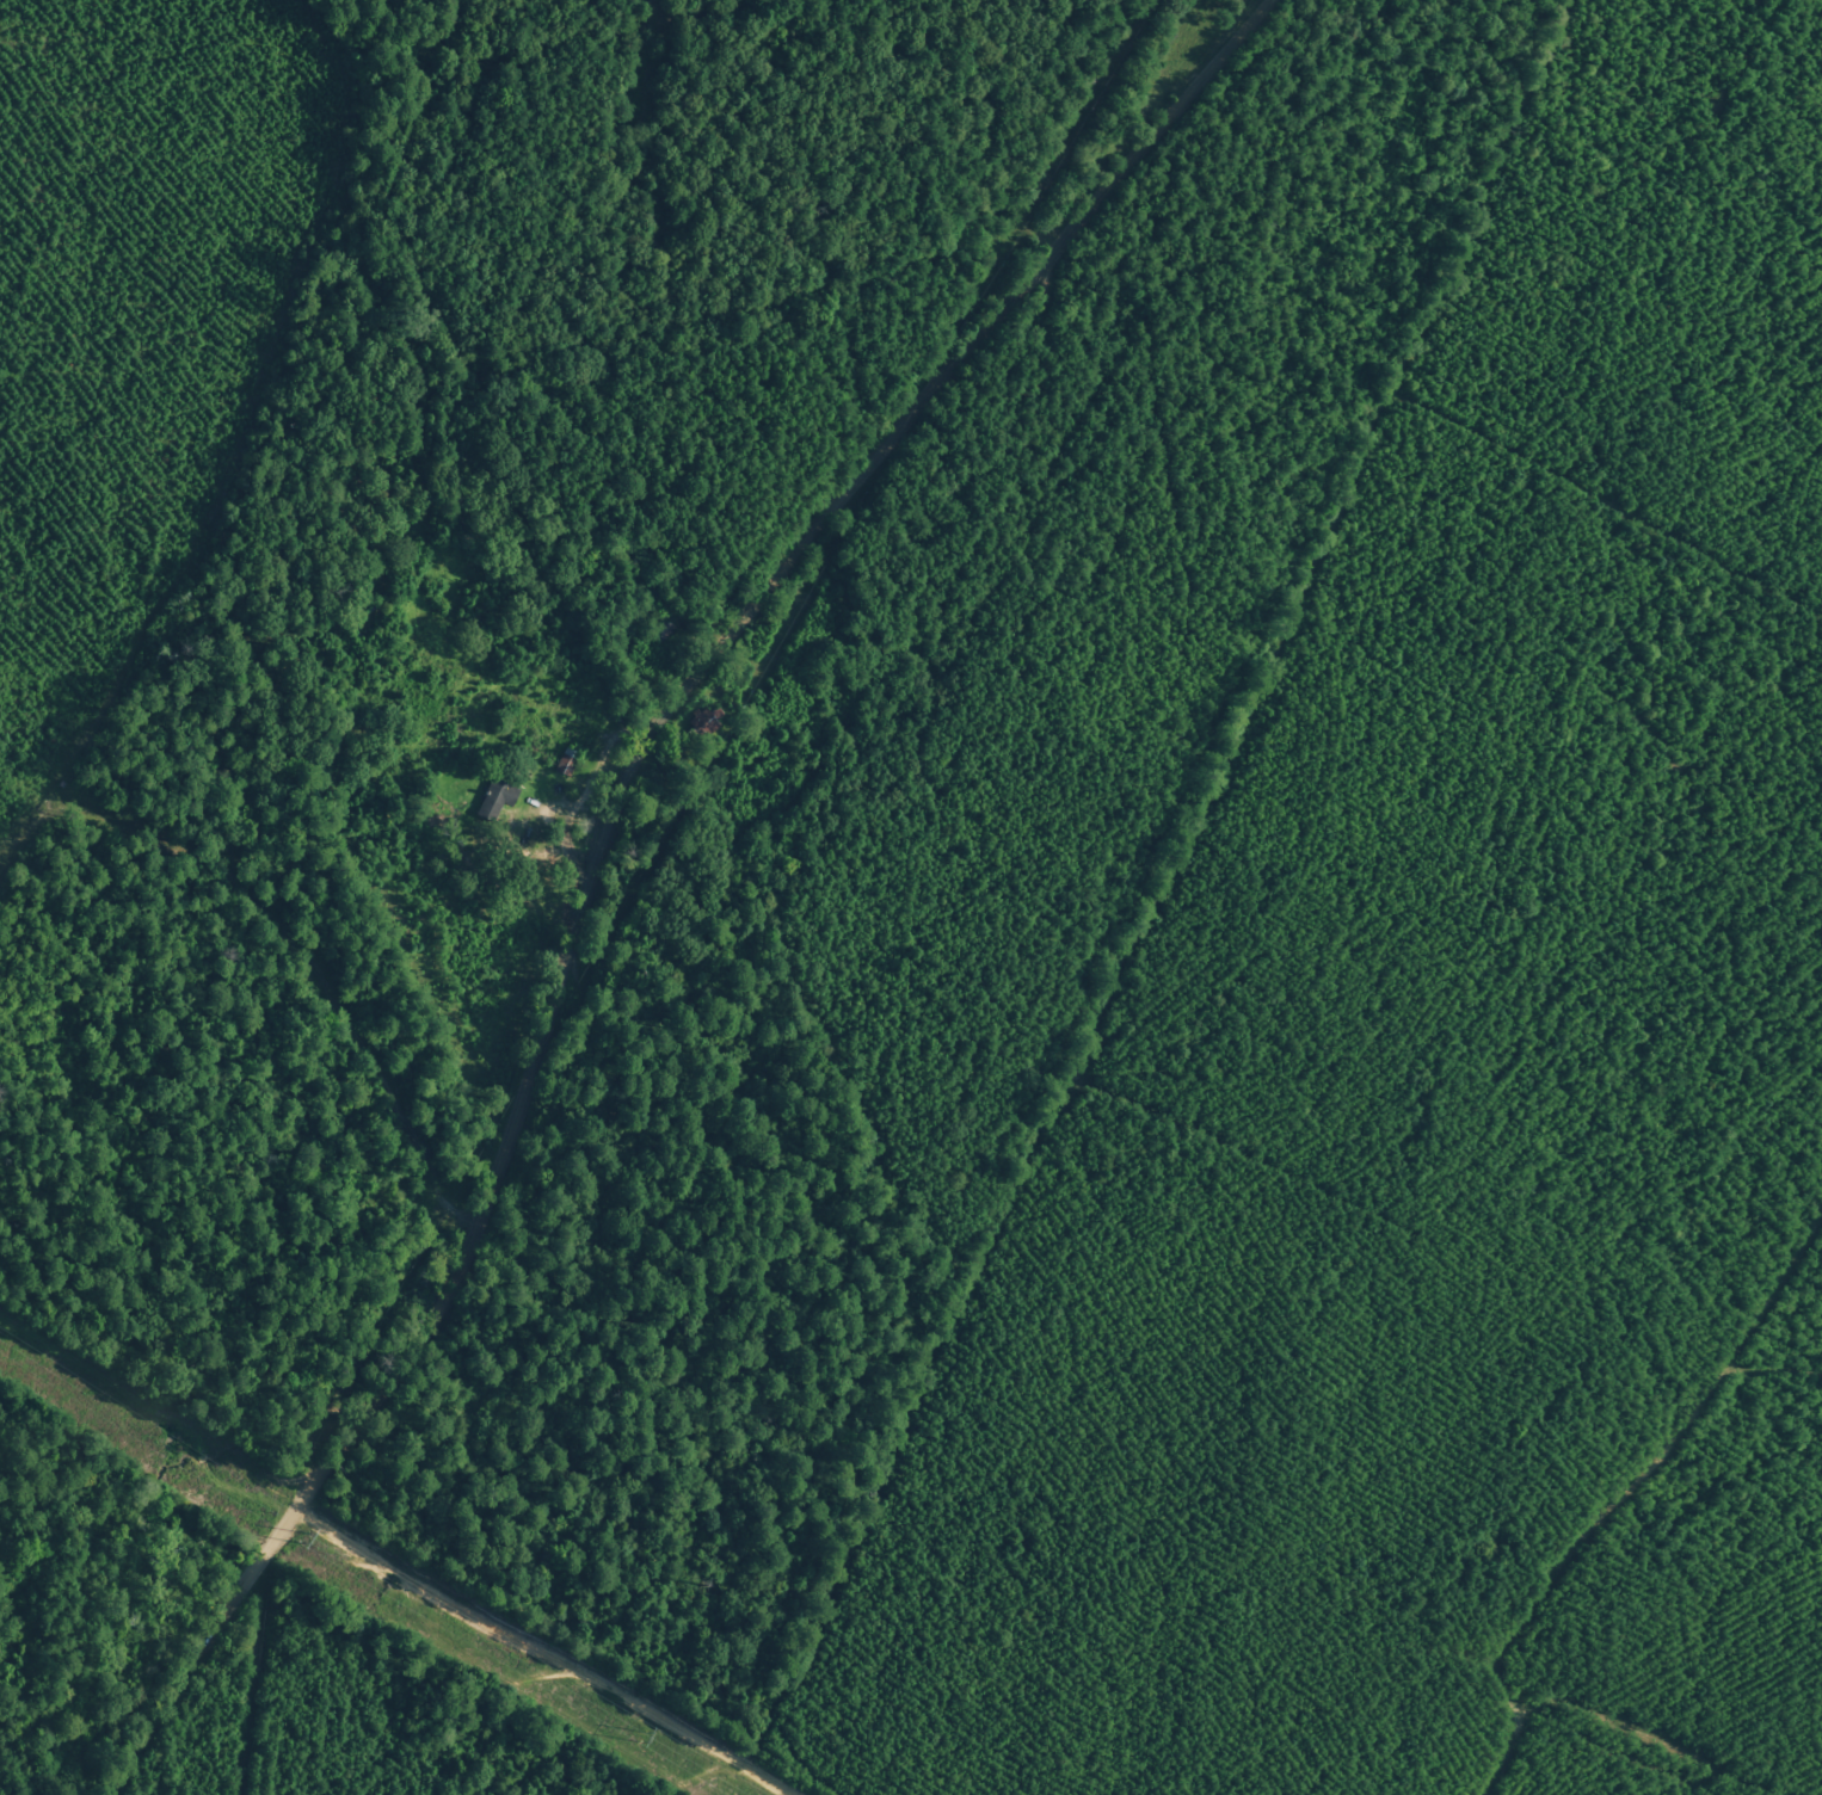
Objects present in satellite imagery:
road: (700, 689)
building: (497, 797)
power tower: (309, 1538)
road: (427, 1569)
power tower: (644, 1735)

